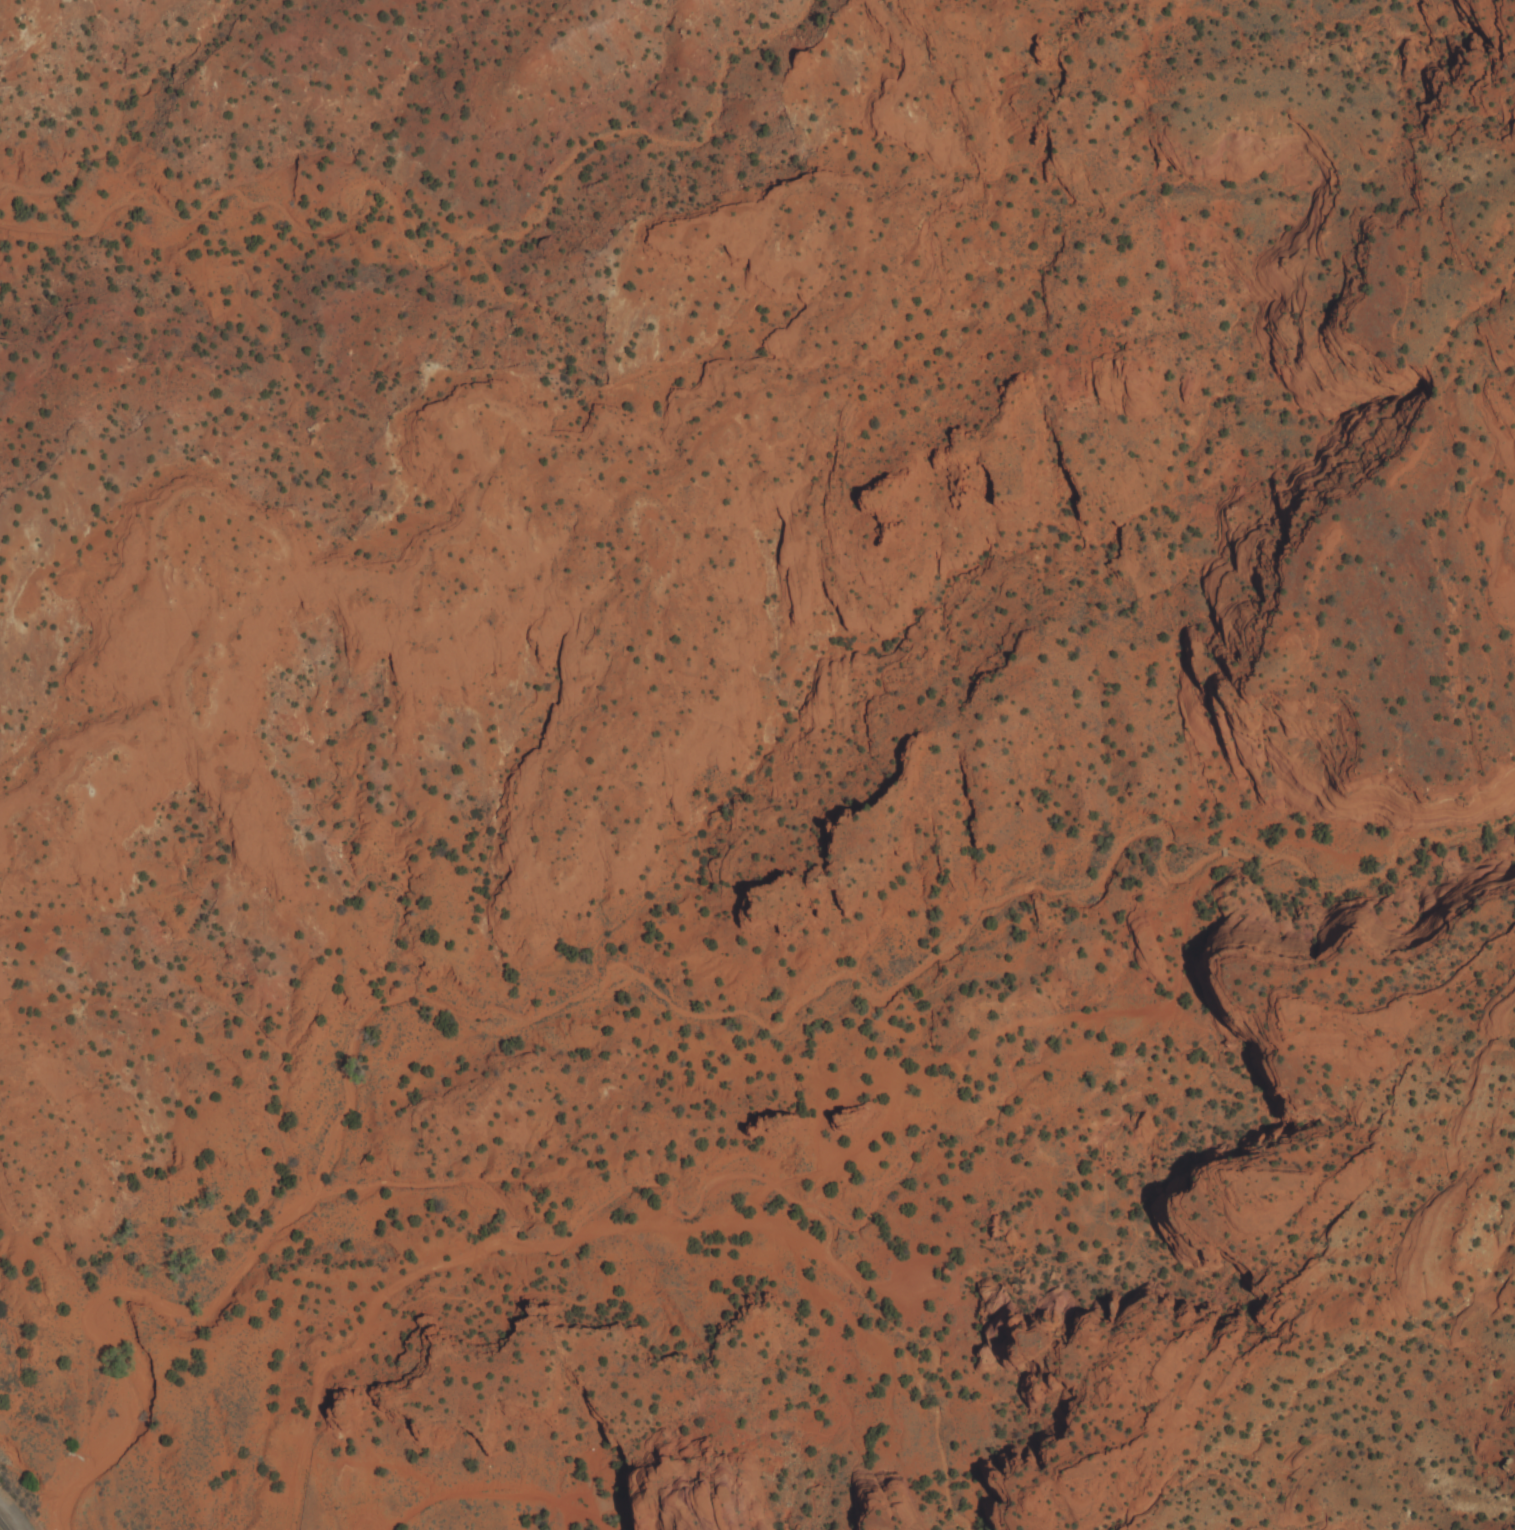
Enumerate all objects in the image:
road: (1, 1528)

